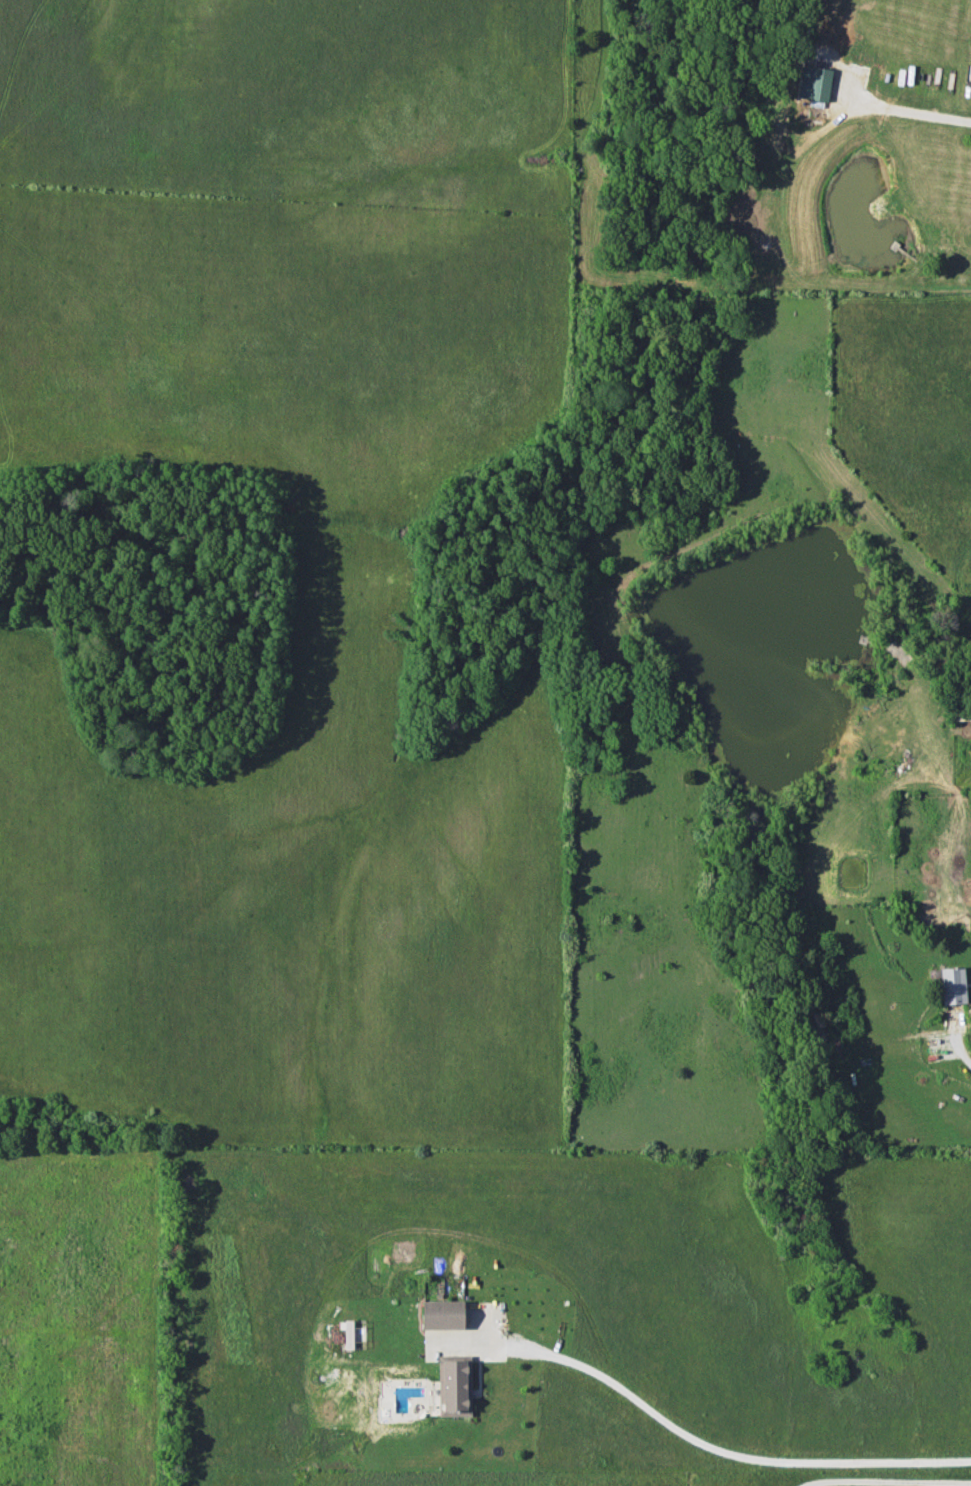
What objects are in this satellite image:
building: (813, 83)
road: (908, 108)
crop: (965, 602)
building: (950, 984)
building: (442, 1315)
building: (349, 1334)
road: (714, 1447)

